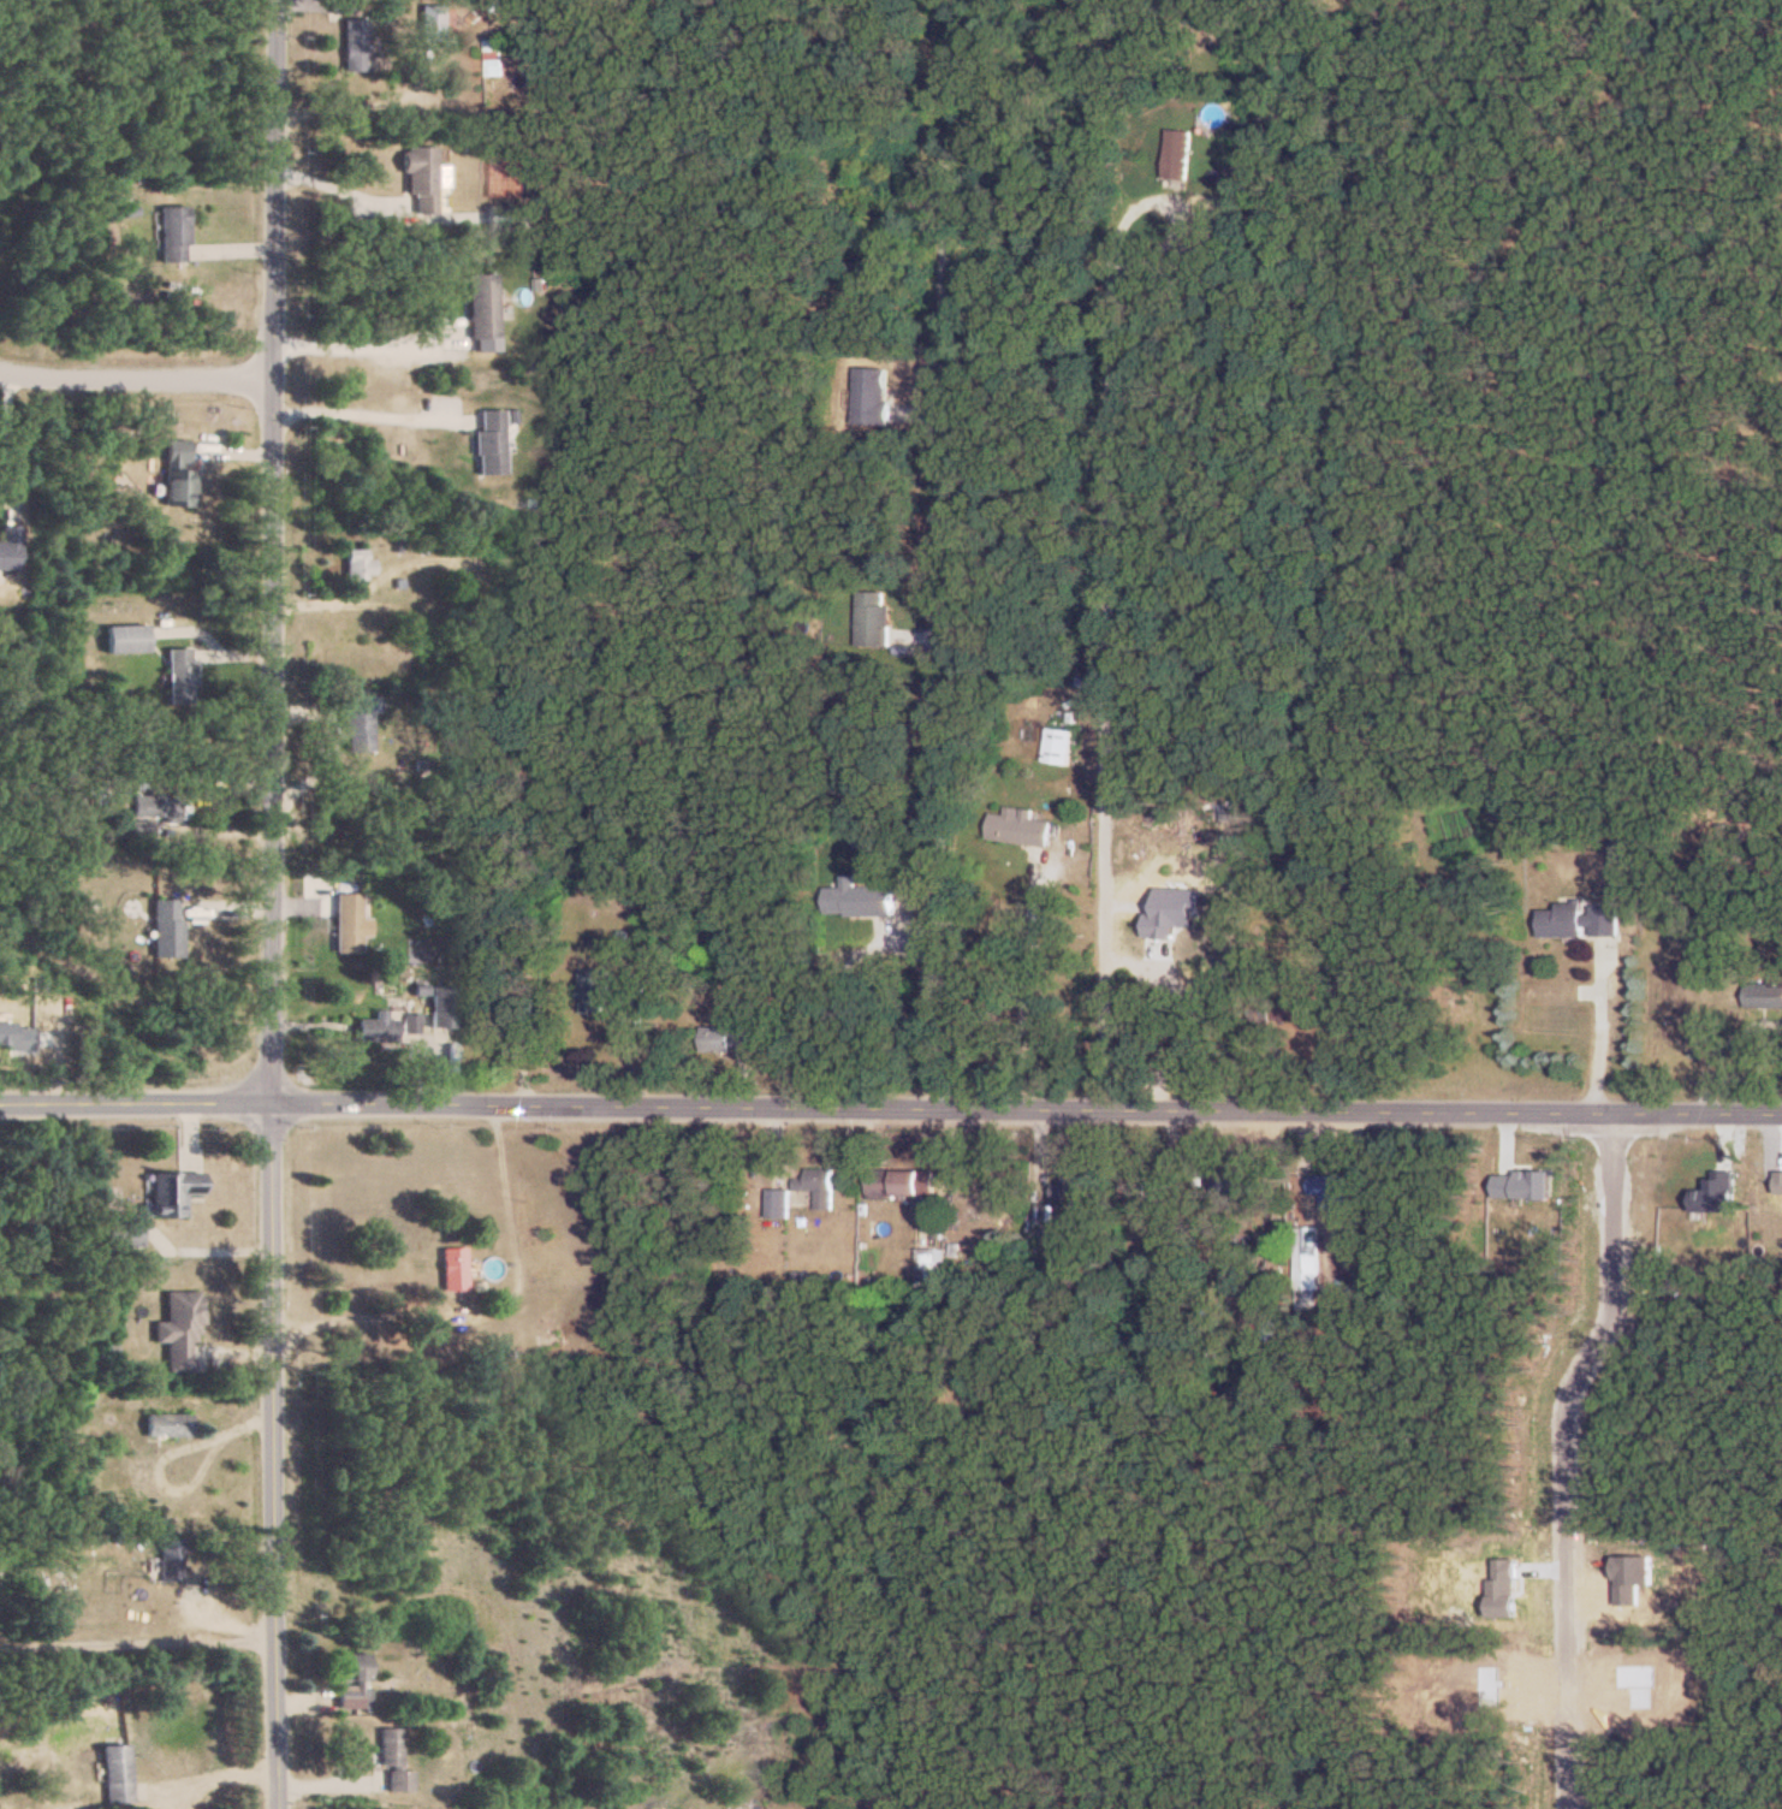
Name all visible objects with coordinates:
building: (435, 22)
building: (356, 45)
building: (495, 55)
building: (1182, 152)
road: (327, 178)
building: (422, 179)
building: (511, 218)
building: (174, 235)
building: (483, 307)
road: (360, 340)
road: (130, 381)
building: (875, 393)
road: (363, 409)
building: (491, 441)
road: (8, 445)
building: (180, 474)
building: (10, 547)
road: (262, 548)
building: (358, 563)
building: (878, 618)
building: (127, 639)
road: (942, 653)
road: (1104, 654)
building: (182, 676)
building: (360, 719)
building: (1063, 745)
building: (150, 814)
building: (1023, 826)
building: (1746, 844)
building: (863, 898)
building: (1582, 919)
building: (348, 923)
building: (166, 929)
road: (831, 978)
road: (1026, 979)
building: (598, 990)
building: (636, 998)
building: (445, 1007)
building: (1299, 1008)
road: (1182, 1014)
building: (378, 1027)
building: (505, 1027)
road: (1609, 1027)
building: (732, 1036)
road: (891, 1104)
building: (898, 1181)
building: (1076, 1182)
building: (821, 1184)
building: (1236, 1184)
building: (173, 1191)
building: (1332, 1191)
building: (782, 1202)
building: (1309, 1251)
building: (455, 1268)
road: (488, 1309)
building: (180, 1328)
building: (168, 1424)
road: (1569, 1453)
road: (268, 1454)
building: (171, 1559)
road: (135, 1642)
building: (354, 1682)
building: (393, 1760)
building: (117, 1774)
road: (215, 1774)

